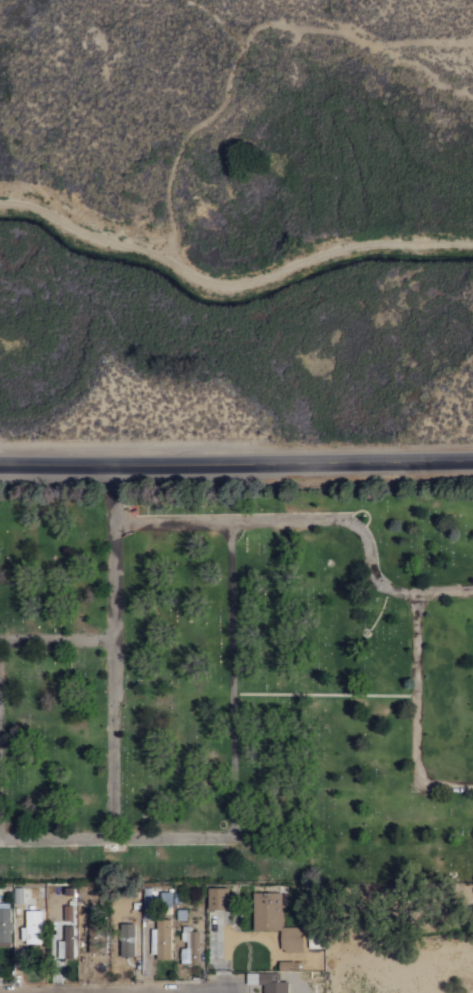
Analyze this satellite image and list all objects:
road: (245, 44)
road: (229, 288)
road: (236, 462)
road: (114, 481)
road: (317, 522)
road: (1, 618)
road: (58, 639)
road: (116, 668)
park: (236, 679)
road: (325, 695)
road: (57, 709)
road: (417, 713)
road: (234, 793)
building: (20, 896)
building: (170, 898)
building: (218, 898)
building: (146, 903)
building: (67, 913)
building: (180, 914)
building: (274, 920)
building: (5, 923)
building: (30, 926)
building: (97, 934)
building: (160, 939)
building: (316, 941)
building: (127, 942)
building: (68, 944)
building: (189, 946)
building: (284, 966)
building: (267, 981)

